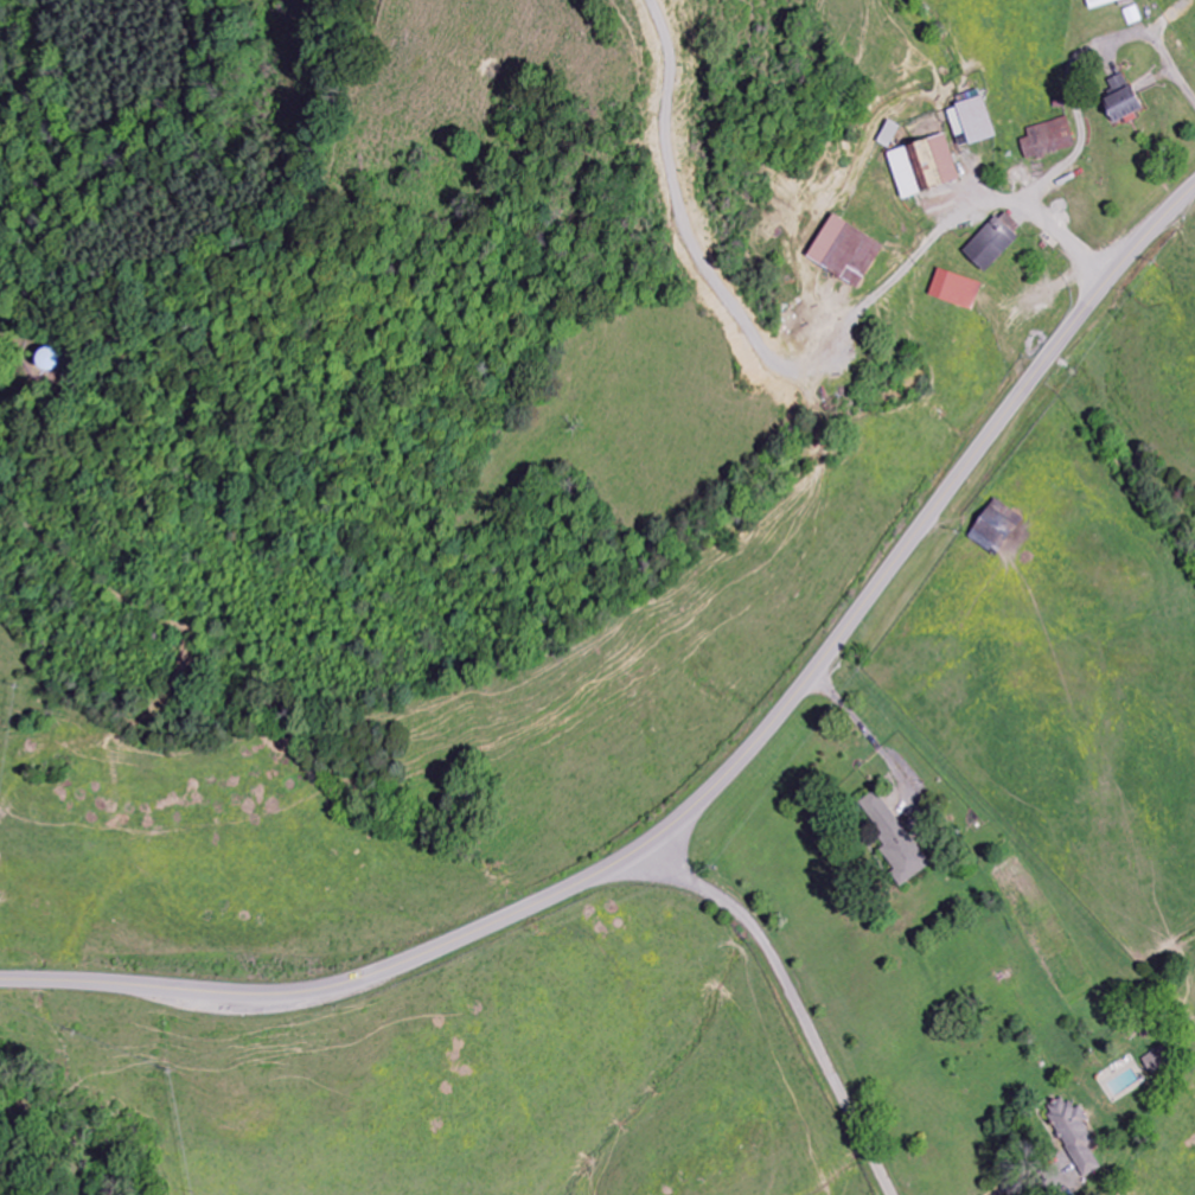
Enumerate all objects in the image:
building: (1103, 2)
building: (1119, 101)
building: (970, 121)
building: (887, 135)
building: (1047, 140)
building: (992, 242)
building: (844, 253)
building: (956, 290)
building: (996, 526)
road: (711, 784)
building: (893, 842)
road: (791, 1001)
building: (1156, 1060)
building: (1074, 1137)

